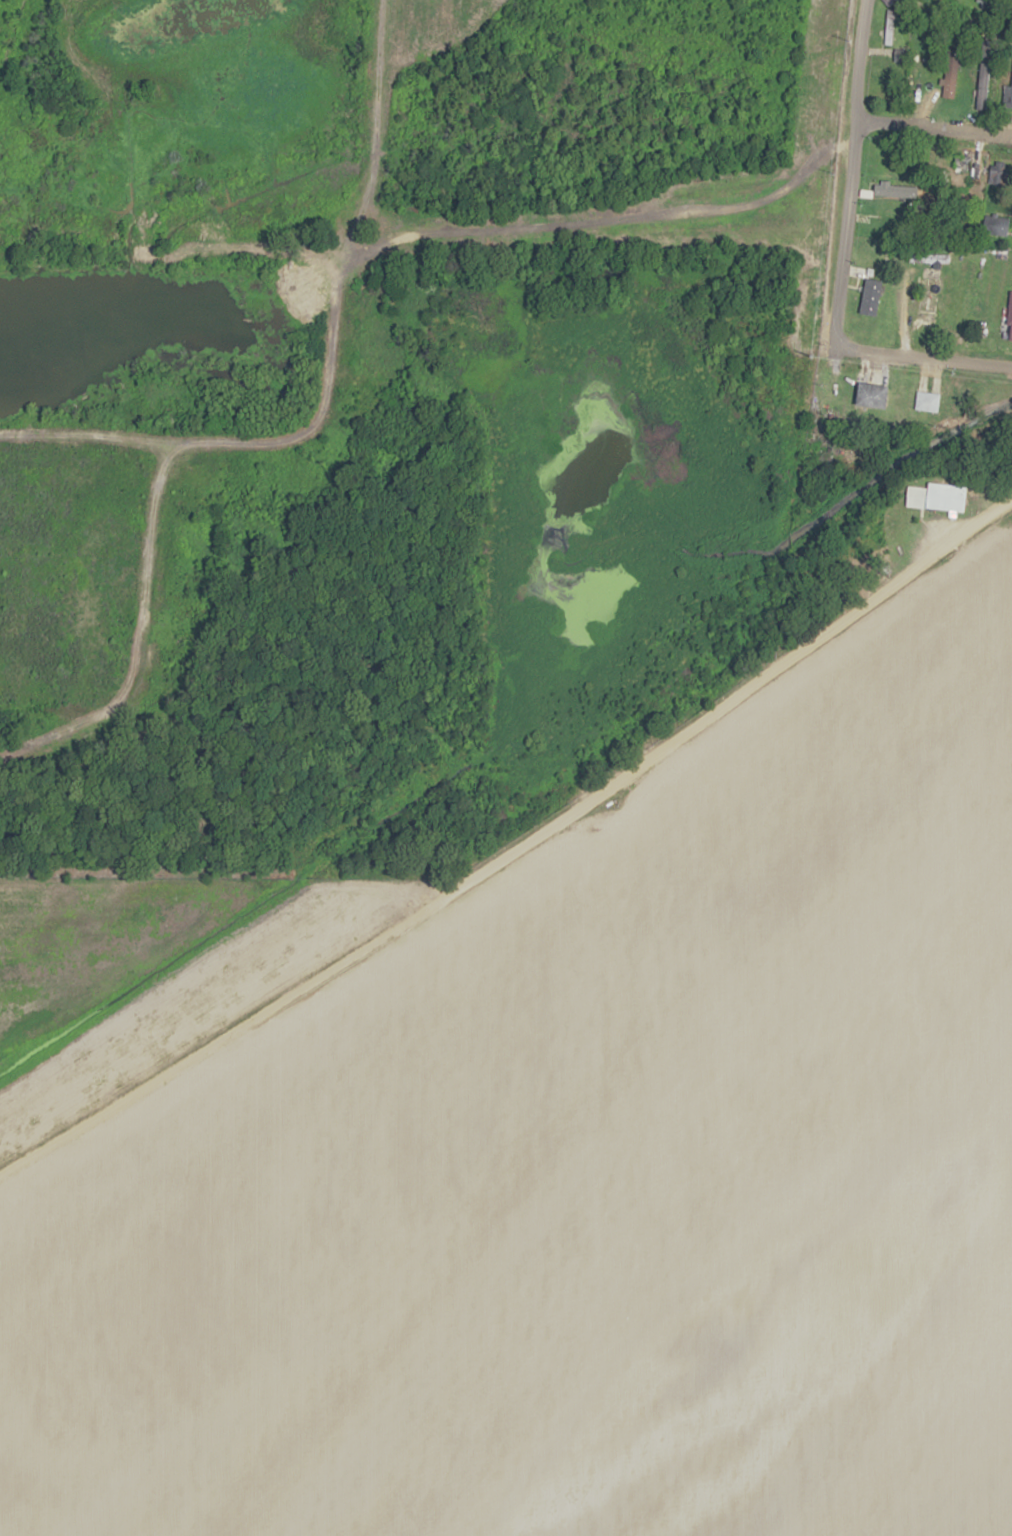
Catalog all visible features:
building: (888, 27)
road: (856, 63)
building: (928, 67)
building: (950, 74)
building: (980, 86)
building: (1006, 96)
road: (931, 133)
building: (960, 174)
building: (887, 189)
building: (995, 225)
road: (840, 237)
road: (350, 272)
building: (869, 297)
road: (924, 360)
building: (871, 395)
building: (926, 401)
building: (937, 497)
road: (1006, 503)
road: (508, 853)

